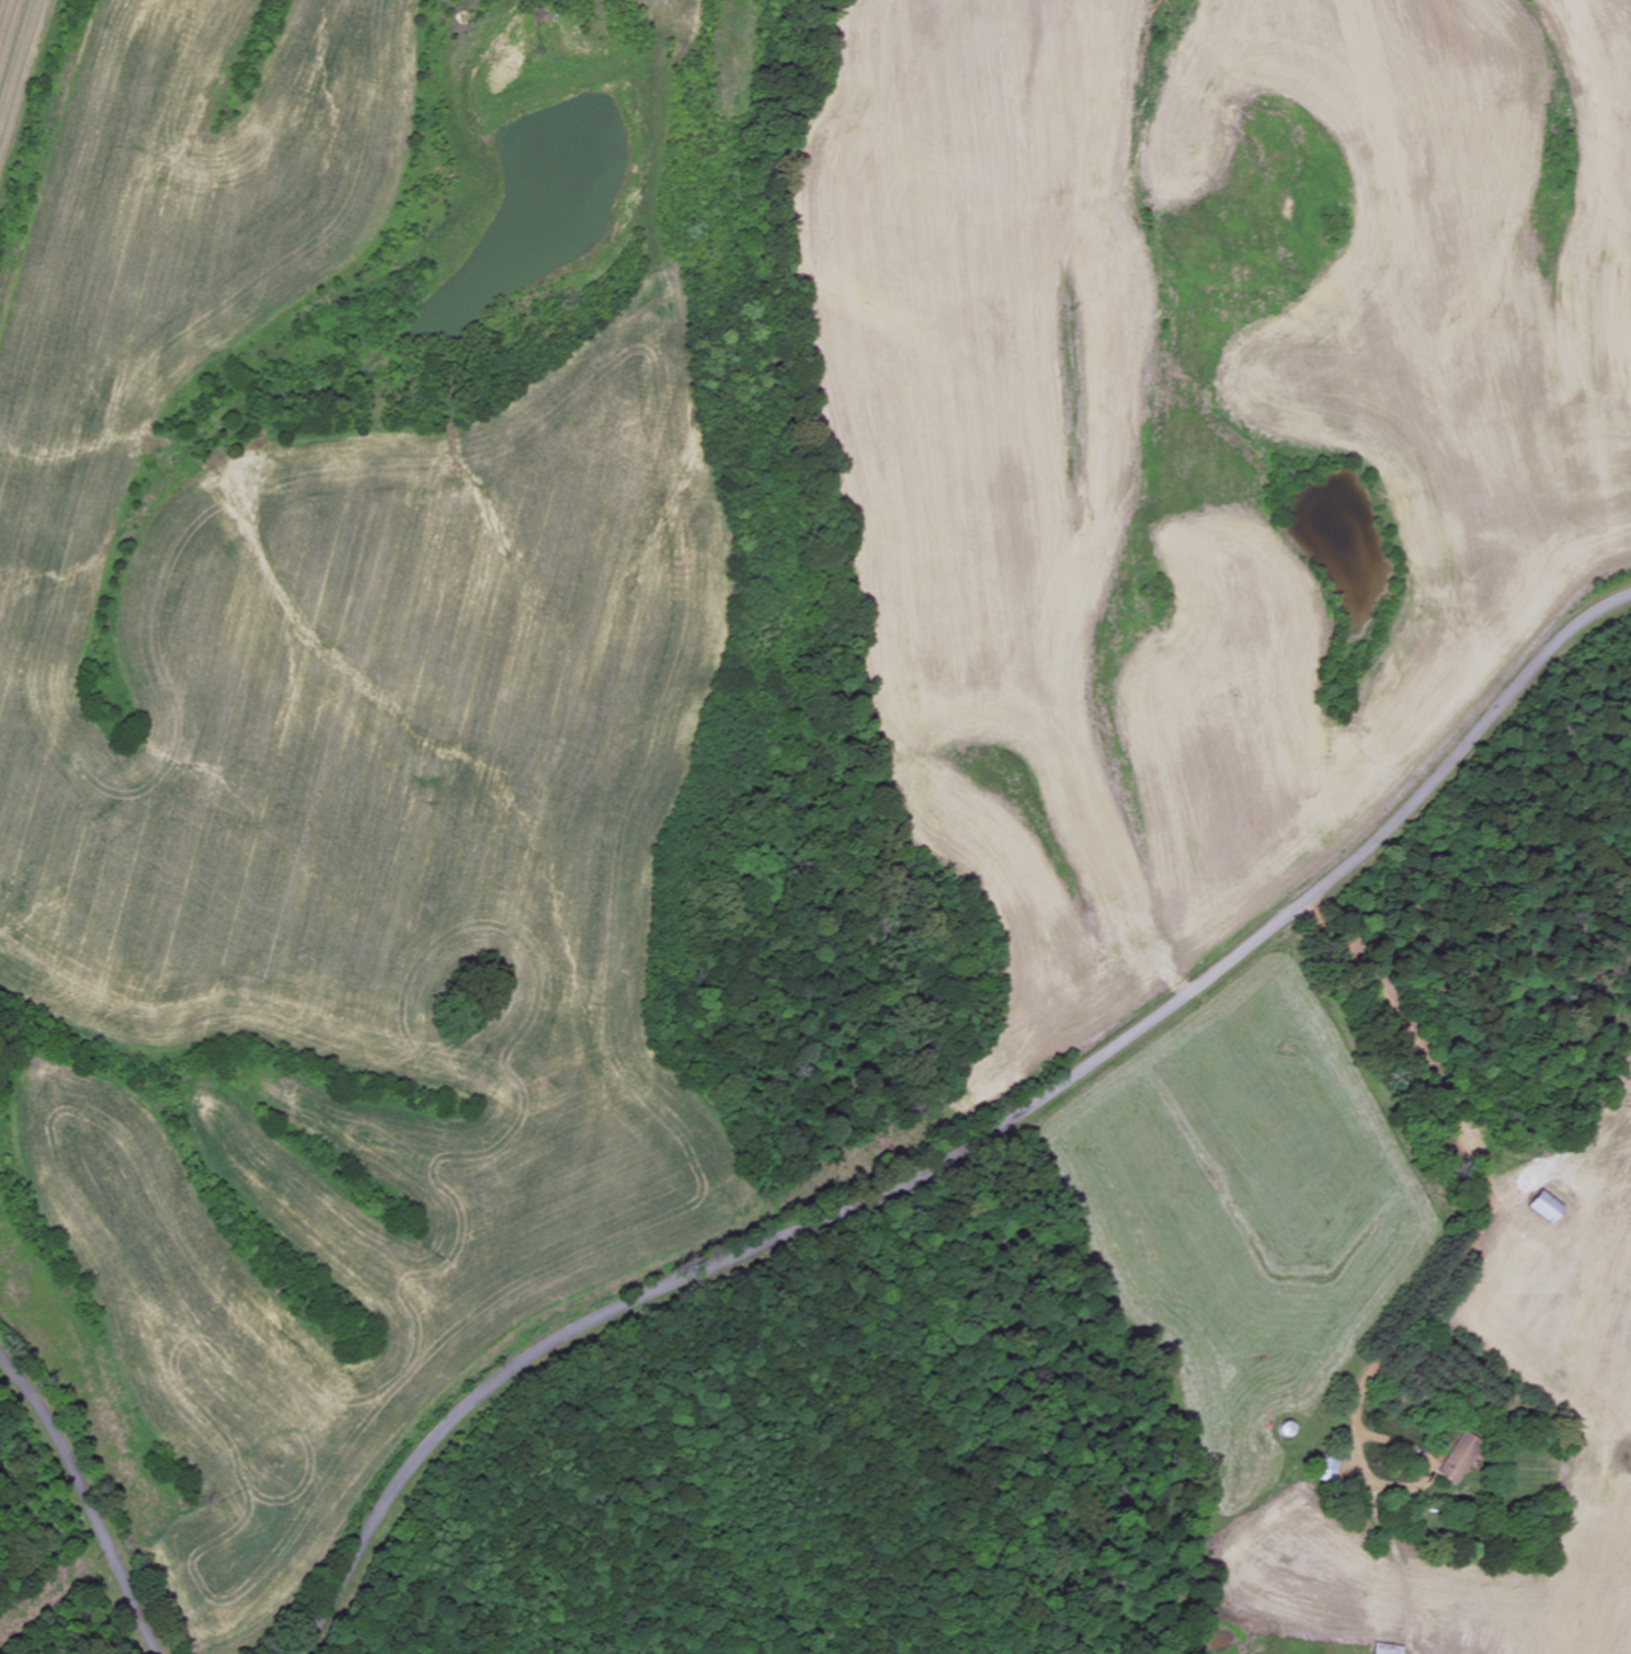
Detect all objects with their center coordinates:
road: (1460, 744)
road: (913, 1179)
road: (1494, 1183)
building: (1459, 1458)
road: (87, 1499)
road: (384, 1508)
building: (1388, 1650)

